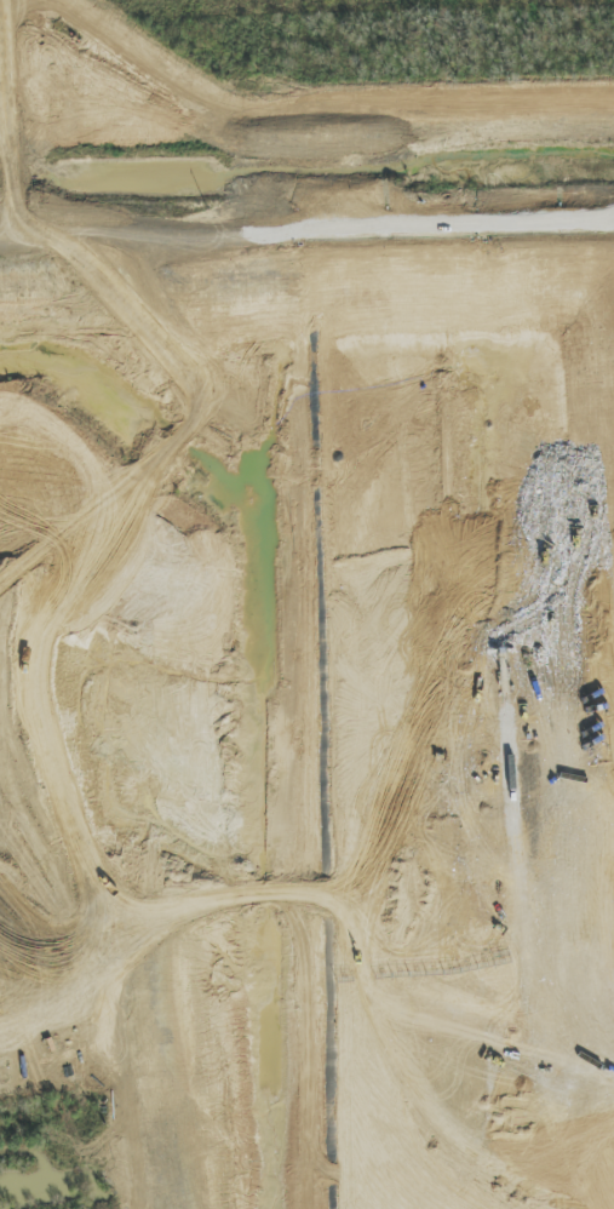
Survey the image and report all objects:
landfill: (415, 1170)

